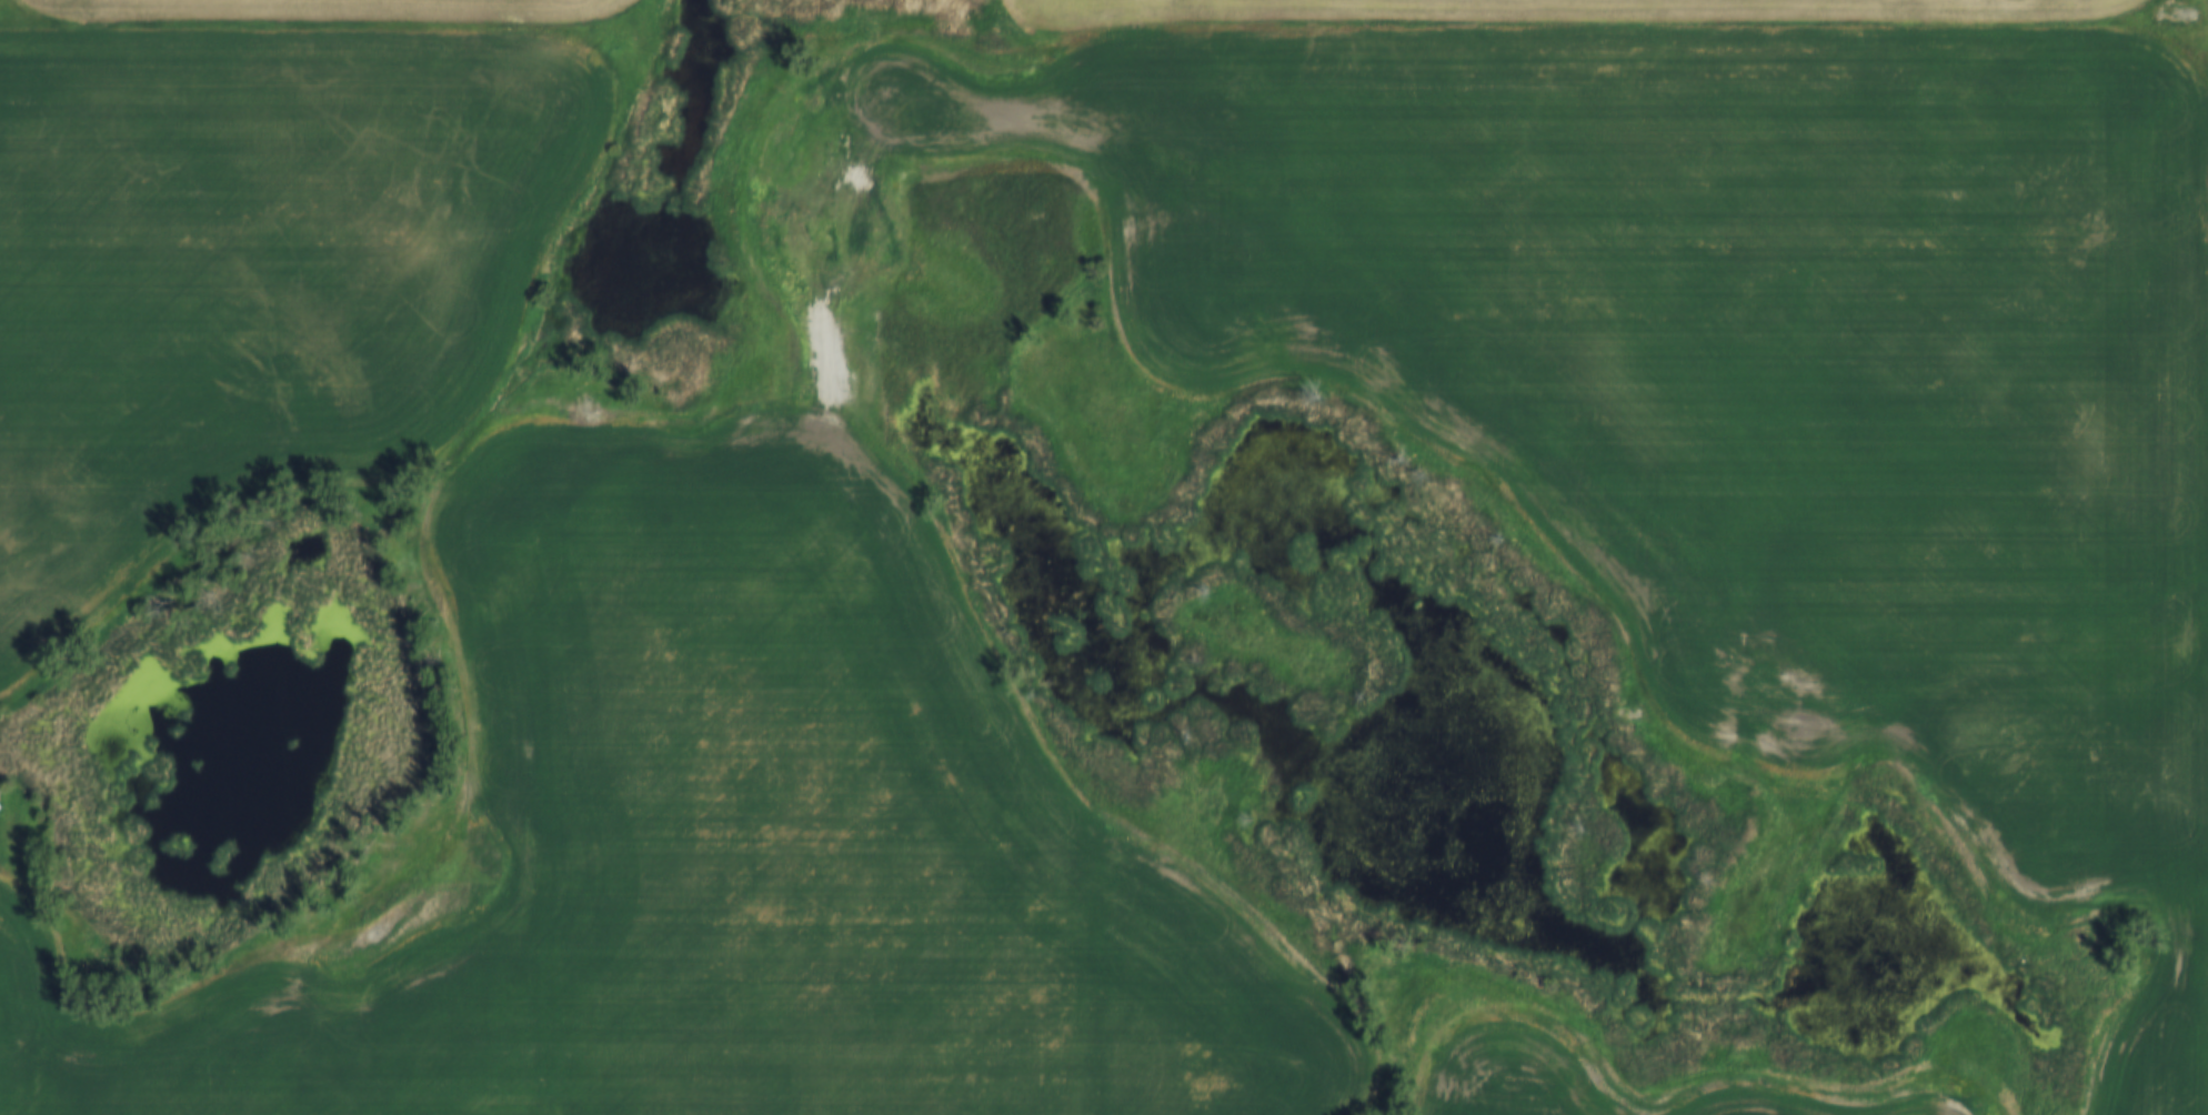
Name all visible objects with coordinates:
road: (2202, 215)

